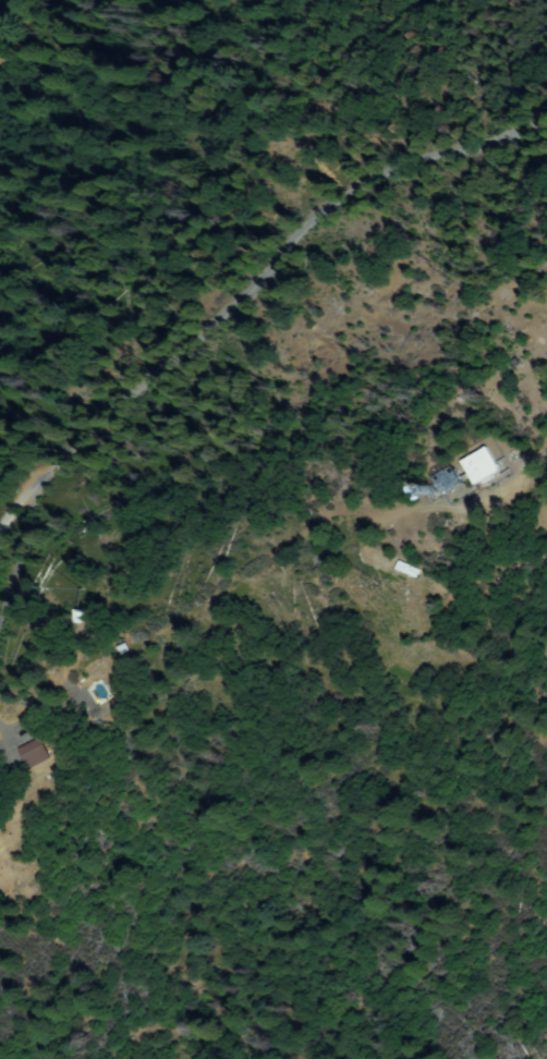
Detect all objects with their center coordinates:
road: (245, 283)
building: (479, 467)
building: (408, 570)
building: (77, 618)
building: (126, 649)
building: (35, 755)

